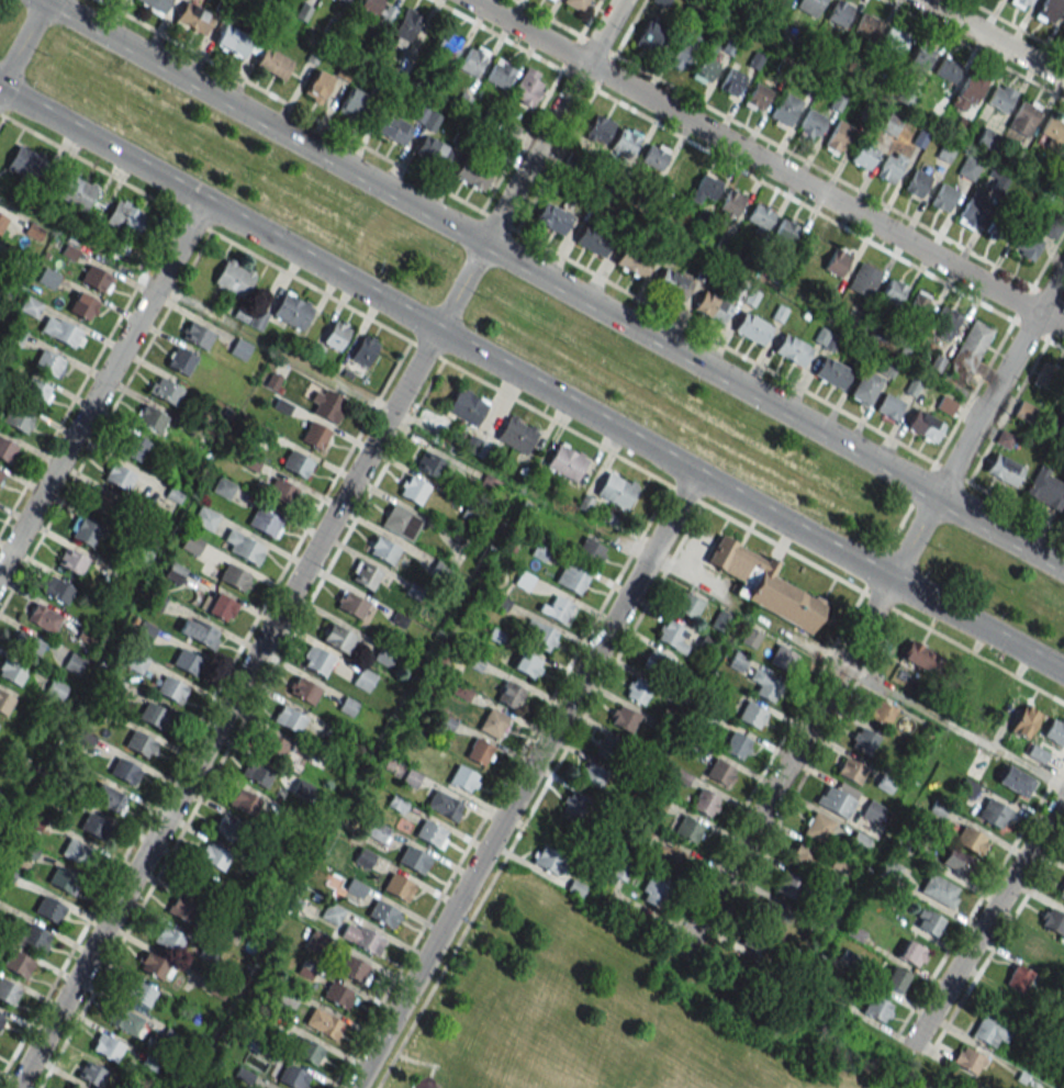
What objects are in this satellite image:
building: (344, 0)
building: (553, 0)
building: (782, 1)
building: (661, 2)
building: (1020, 3)
building: (156, 4)
building: (575, 4)
building: (809, 7)
building: (376, 10)
building: (1048, 10)
building: (839, 13)
building: (193, 18)
road: (546, 18)
building: (1063, 25)
building: (866, 26)
road: (1015, 26)
building: (404, 29)
building: (650, 37)
road: (993, 38)
building: (233, 41)
road: (23, 42)
building: (893, 42)
building: (447, 45)
road: (974, 49)
building: (685, 51)
building: (920, 56)
building: (472, 59)
building: (272, 63)
building: (705, 66)
building: (948, 70)
building: (500, 74)
road: (556, 77)
road: (600, 78)
building: (731, 81)
building: (316, 86)
building: (527, 87)
building: (967, 92)
building: (757, 97)
building: (1000, 97)
building: (351, 102)
building: (784, 110)
road: (2, 114)
building: (1024, 116)
building: (426, 119)
road: (552, 121)
building: (810, 124)
building: (393, 128)
building: (597, 128)
building: (1052, 132)
building: (837, 138)
building: (987, 138)
building: (624, 143)
building: (432, 152)
building: (863, 155)
building: (653, 157)
road: (754, 157)
road: (803, 159)
building: (25, 164)
building: (968, 168)
building: (888, 169)
building: (677, 171)
building: (472, 173)
building: (916, 183)
building: (706, 187)
building: (76, 191)
building: (943, 198)
building: (730, 203)
building: (970, 213)
building: (759, 216)
building: (123, 217)
building: (553, 218)
road: (829, 218)
building: (2, 222)
building: (784, 231)
building: (593, 239)
road: (535, 242)
building: (811, 246)
building: (1027, 246)
building: (631, 261)
building: (837, 262)
building: (48, 278)
building: (94, 278)
building: (232, 278)
building: (863, 280)
road: (347, 281)
road: (553, 282)
building: (671, 284)
road: (1050, 289)
building: (892, 292)
building: (919, 304)
building: (30, 305)
building: (83, 306)
building: (712, 307)
building: (292, 312)
road: (1051, 321)
building: (945, 322)
building: (751, 327)
building: (59, 332)
building: (336, 335)
building: (198, 336)
building: (826, 338)
building: (973, 341)
road: (276, 346)
building: (365, 350)
building: (792, 350)
road: (428, 351)
building: (180, 360)
building: (48, 362)
building: (885, 367)
road: (88, 370)
building: (831, 372)
building: (1050, 379)
road: (101, 385)
building: (863, 386)
building: (35, 391)
building: (166, 391)
building: (327, 405)
road: (987, 405)
building: (888, 406)
building: (467, 407)
building: (1023, 410)
building: (16, 418)
road: (104, 418)
building: (150, 418)
building: (923, 426)
building: (313, 436)
building: (516, 436)
building: (135, 446)
building: (7, 450)
building: (296, 463)
building: (429, 463)
building: (565, 463)
building: (1004, 469)
building: (1, 474)
building: (119, 476)
building: (223, 487)
building: (1045, 489)
building: (413, 490)
building: (616, 491)
building: (281, 492)
road: (998, 496)
building: (100, 502)
building: (1062, 513)
building: (204, 518)
building: (262, 521)
building: (400, 521)
building: (83, 531)
building: (191, 543)
building: (242, 546)
building: (382, 550)
building: (589, 552)
building: (71, 560)
building: (439, 569)
road: (880, 572)
building: (175, 573)
building: (366, 575)
building: (233, 576)
building: (574, 581)
building: (763, 584)
building: (57, 590)
building: (156, 601)
building: (351, 605)
building: (219, 606)
building: (687, 606)
building: (559, 609)
building: (43, 618)
road: (918, 621)
building: (145, 630)
building: (199, 631)
building: (671, 633)
building: (87, 635)
building: (542, 637)
building: (750, 638)
building: (338, 639)
building: (708, 642)
building: (26, 644)
building: (383, 655)
building: (918, 655)
building: (779, 657)
building: (186, 661)
building: (317, 661)
building: (656, 663)
building: (74, 664)
building: (526, 664)
road: (249, 666)
building: (12, 672)
building: (363, 678)
building: (764, 684)
building: (55, 689)
building: (171, 689)
building: (304, 691)
building: (638, 691)
building: (508, 695)
building: (4, 703)
building: (348, 706)
building: (880, 713)
building: (751, 715)
building: (154, 716)
building: (623, 718)
building: (289, 719)
building: (1023, 721)
building: (492, 724)
road: (808, 726)
road: (953, 726)
building: (1054, 732)
building: (83, 739)
building: (863, 741)
building: (139, 743)
building: (735, 744)
building: (271, 745)
building: (608, 747)
building: (479, 752)
building: (1035, 753)
building: (646, 760)
building: (124, 770)
building: (851, 770)
building: (718, 772)
building: (257, 774)
building: (591, 775)
building: (463, 778)
road: (524, 781)
building: (1015, 781)
road: (500, 786)
road: (538, 795)
building: (107, 797)
building: (704, 801)
building: (835, 801)
building: (244, 803)
building: (444, 805)
building: (572, 805)
building: (873, 811)
building: (993, 812)
building: (817, 827)
building: (92, 828)
building: (687, 829)
building: (228, 830)
building: (374, 830)
building: (429, 833)
building: (562, 833)
building: (970, 840)
building: (76, 852)
building: (802, 855)
building: (213, 856)
building: (668, 856)
building: (412, 859)
building: (547, 860)
building: (956, 861)
building: (61, 881)
building: (201, 885)
building: (789, 885)
building: (397, 886)
building: (356, 887)
building: (652, 889)
building: (939, 889)
building: (1061, 893)
building: (48, 908)
building: (183, 908)
building: (331, 913)
building: (382, 913)
building: (771, 916)
road: (986, 921)
building: (1052, 921)
building: (927, 922)
building: (34, 938)
building: (168, 939)
building: (752, 939)
building: (366, 941)
building: (1037, 949)
building: (911, 953)
building: (15, 963)
building: (153, 965)
building: (350, 967)
building: (893, 977)
building: (1019, 978)
building: (8, 992)
building: (139, 992)
building: (336, 995)
building: (1005, 1007)
building: (876, 1009)
park: (606, 1011)
building: (1, 1018)
building: (124, 1020)
building: (322, 1022)
building: (992, 1031)
building: (107, 1047)
building: (306, 1051)
building: (967, 1059)
building: (91, 1074)
building: (291, 1076)
building: (71, 1087)

